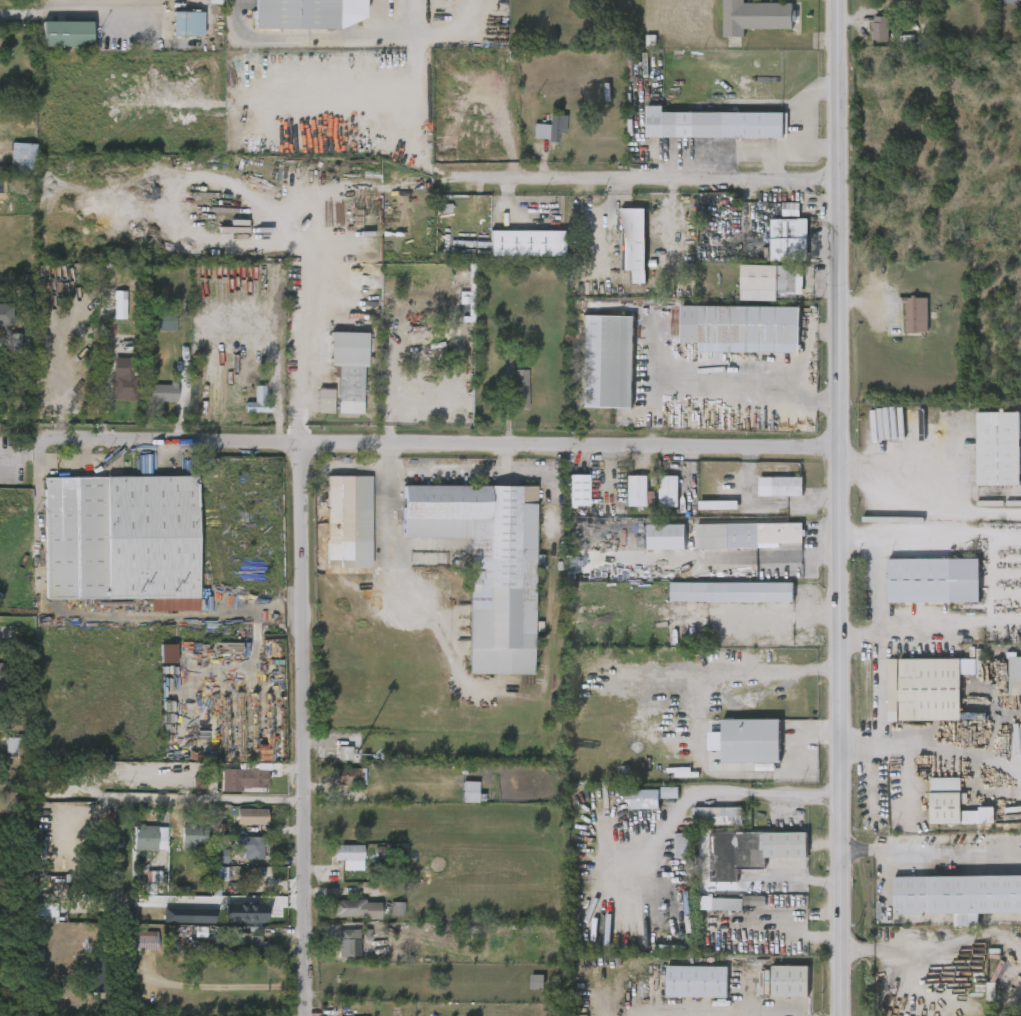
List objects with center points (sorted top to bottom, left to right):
building: (1011, 1)
road: (86, 9)
building: (308, 13)
road: (14, 16)
building: (754, 16)
building: (186, 24)
building: (880, 28)
building: (67, 34)
road: (355, 38)
road: (809, 106)
building: (714, 124)
building: (549, 128)
road: (761, 150)
building: (20, 158)
road: (773, 164)
road: (655, 185)
road: (587, 233)
building: (789, 240)
building: (525, 243)
building: (633, 243)
building: (770, 282)
building: (118, 309)
building: (5, 314)
building: (916, 315)
building: (166, 320)
road: (309, 324)
building: (742, 329)
building: (606, 362)
road: (103, 364)
building: (348, 369)
building: (124, 381)
building: (516, 390)
road: (723, 390)
building: (160, 393)
building: (257, 402)
building: (324, 402)
road: (439, 442)
building: (998, 449)
road: (445, 471)
building: (778, 487)
building: (576, 489)
building: (635, 490)
building: (666, 490)
building: (1013, 502)
road: (838, 508)
road: (930, 510)
road: (975, 512)
road: (387, 517)
building: (346, 521)
building: (745, 534)
building: (666, 537)
building: (120, 540)
building: (485, 564)
building: (934, 580)
road: (37, 581)
building: (729, 592)
road: (225, 615)
road: (860, 637)
road: (880, 651)
building: (167, 654)
road: (752, 668)
building: (1015, 675)
building: (7, 679)
building: (926, 688)
road: (292, 728)
building: (751, 741)
building: (12, 745)
road: (931, 749)
building: (343, 753)
building: (347, 777)
building: (243, 780)
road: (723, 791)
building: (469, 792)
building: (669, 793)
building: (641, 799)
building: (954, 804)
road: (135, 813)
building: (251, 817)
building: (715, 817)
building: (109, 836)
building: (193, 838)
building: (148, 839)
building: (682, 846)
building: (249, 849)
building: (220, 850)
road: (931, 850)
building: (750, 852)
building: (348, 856)
building: (218, 873)
building: (957, 896)
road: (202, 899)
building: (725, 905)
building: (355, 909)
building: (397, 910)
building: (254, 913)
building: (201, 916)
road: (796, 925)
building: (142, 941)
building: (249, 943)
building: (346, 944)
building: (537, 982)
building: (696, 982)
building: (790, 982)
road: (201, 1002)

